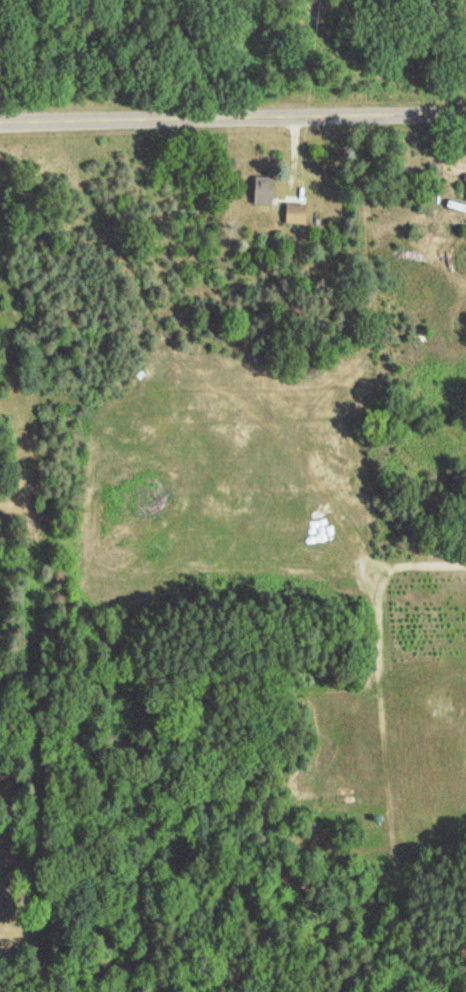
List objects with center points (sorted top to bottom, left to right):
road: (233, 123)
building: (265, 191)
building: (298, 212)

